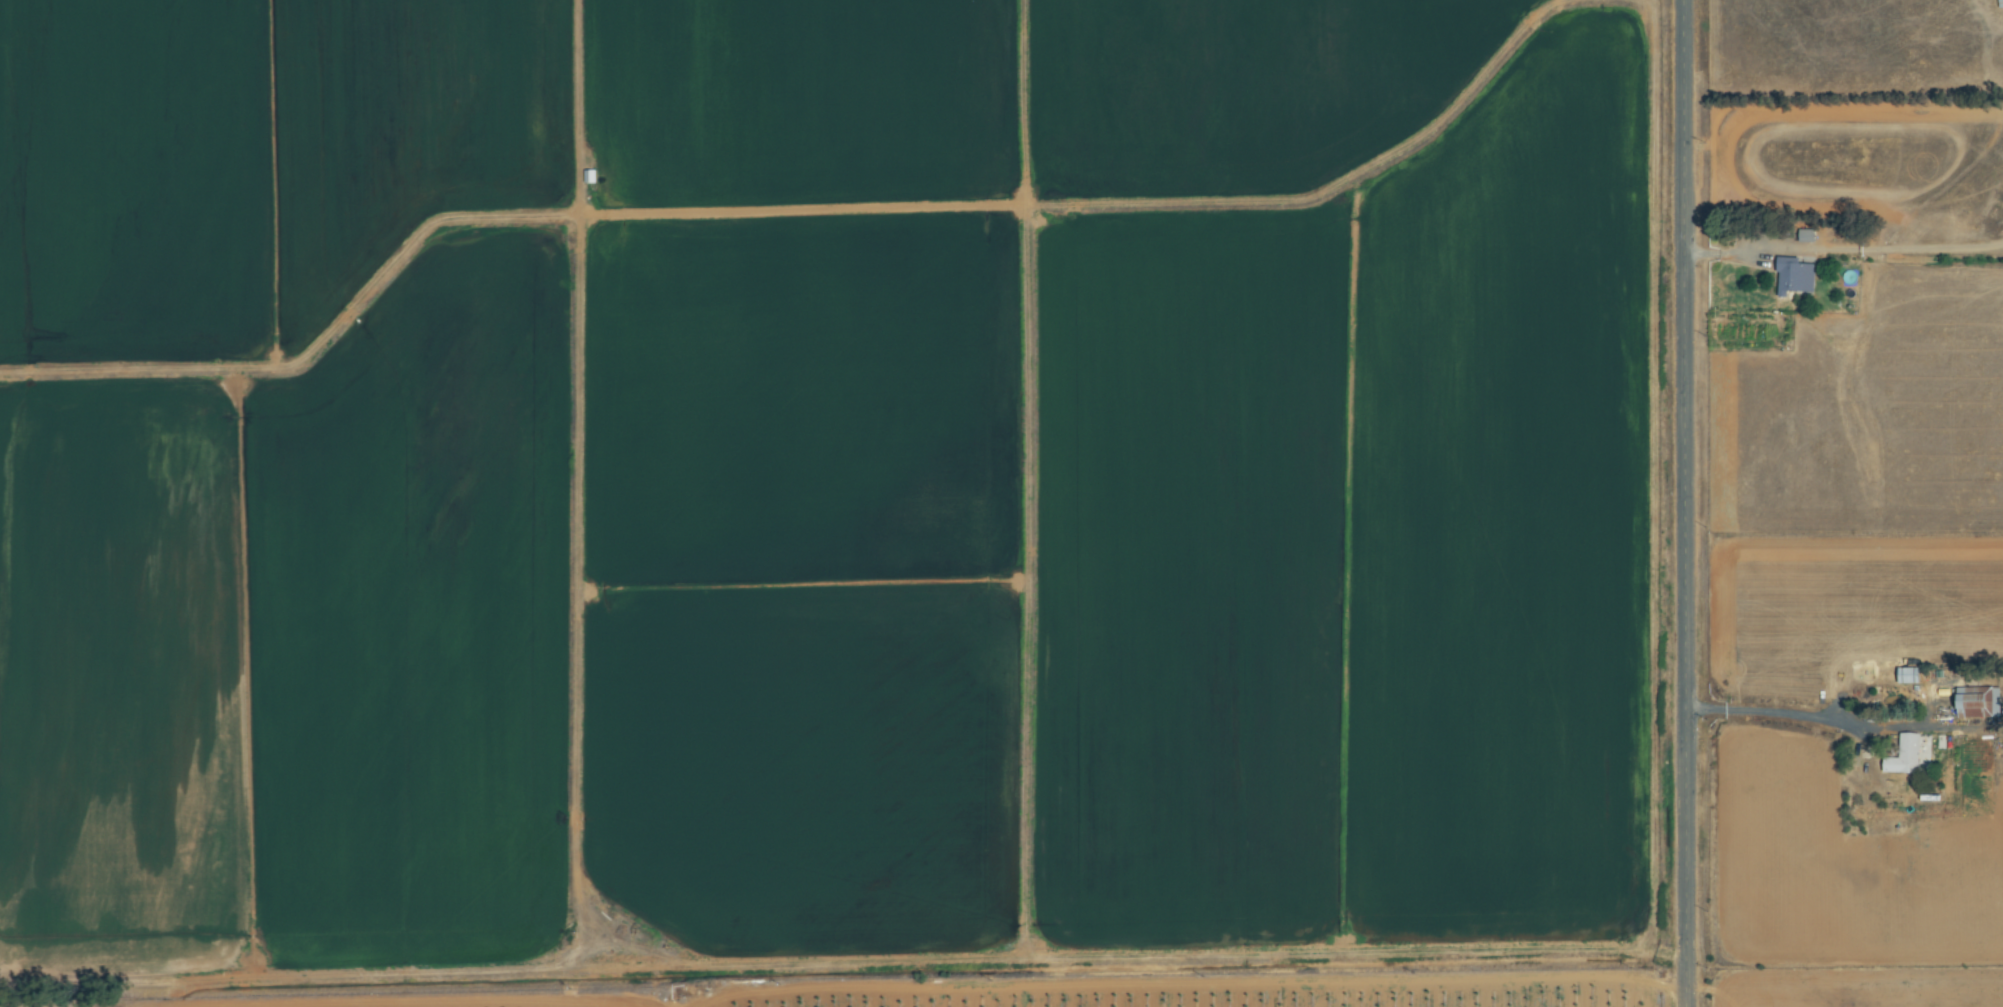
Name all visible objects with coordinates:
road: (1846, 220)
building: (1790, 276)
road: (1689, 503)
building: (1975, 705)
road: (1782, 710)
building: (1900, 757)

